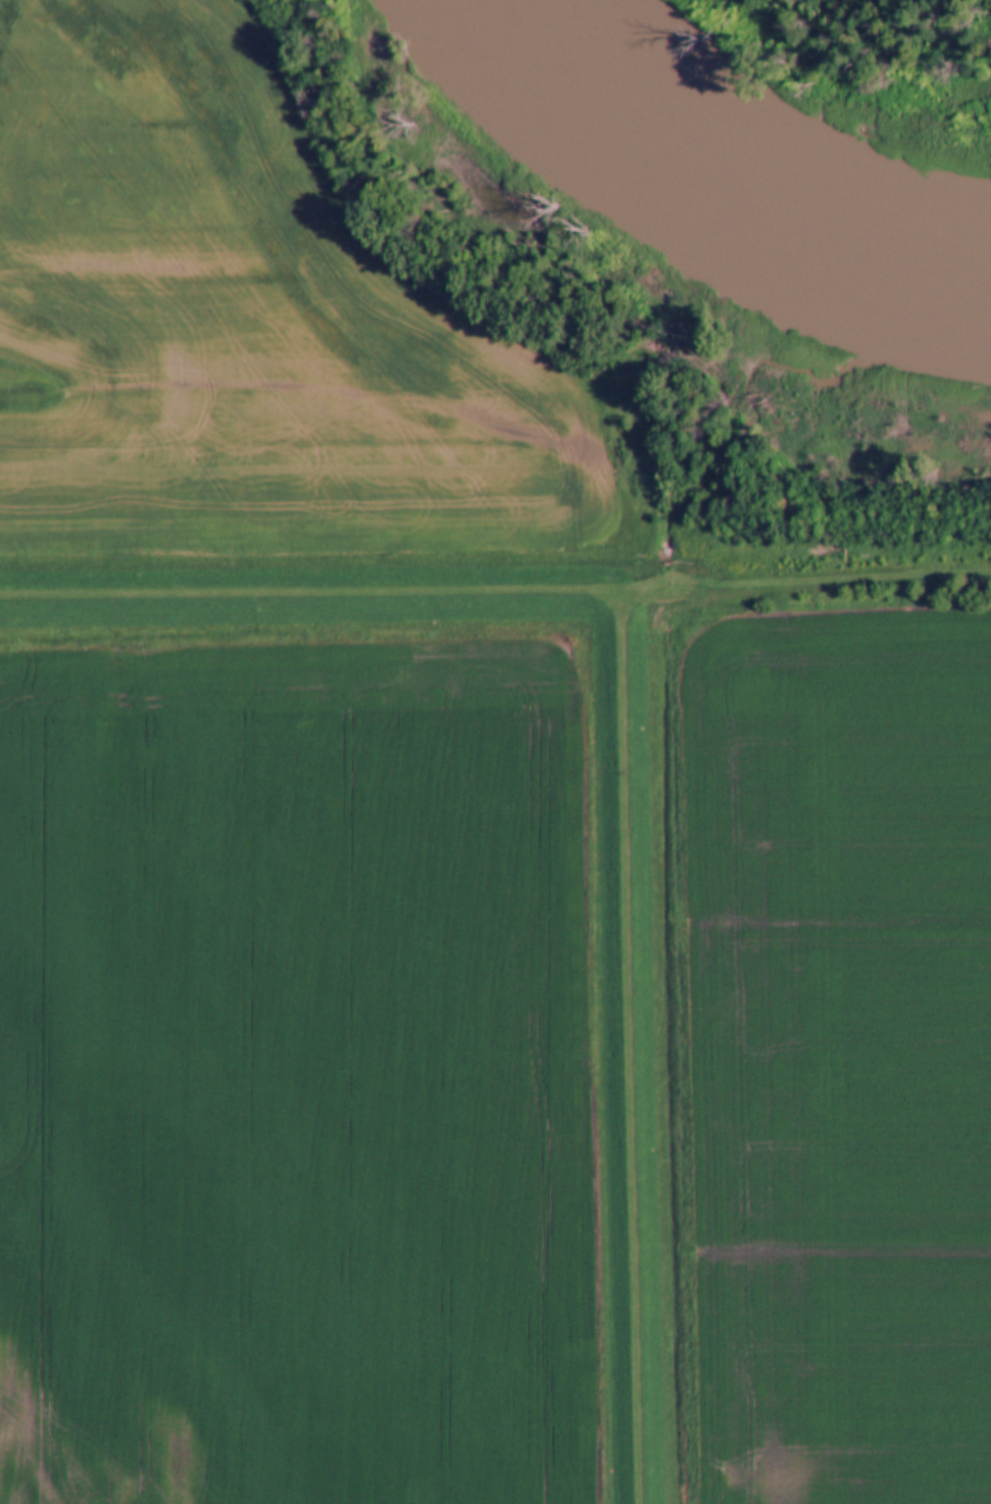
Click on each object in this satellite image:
river: (739, 163)
road: (496, 620)

